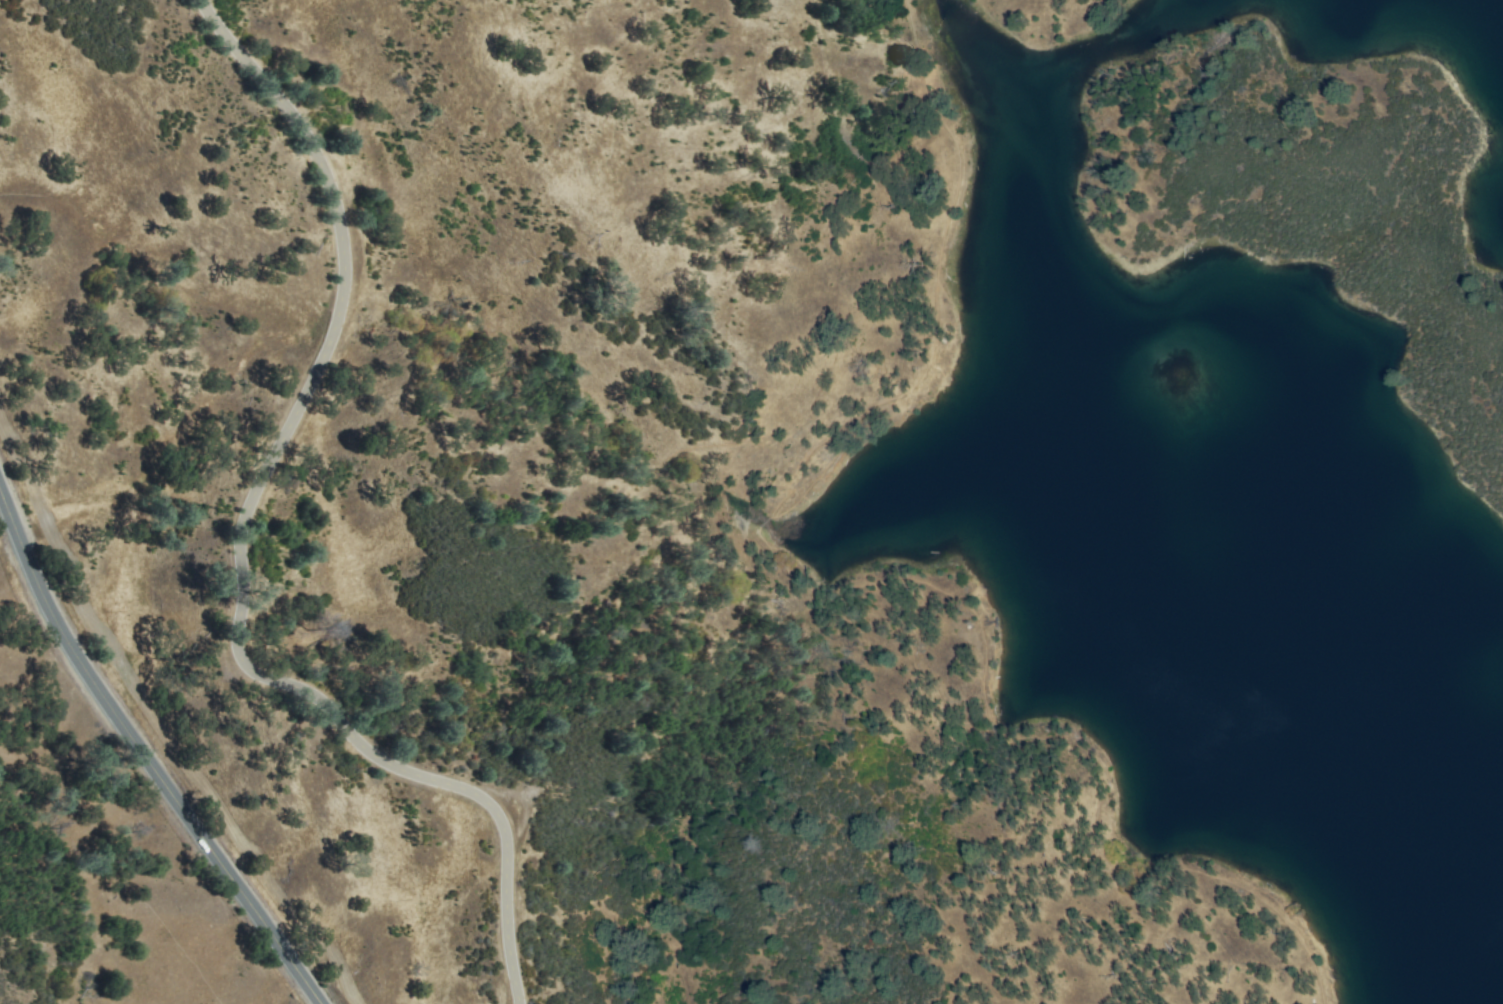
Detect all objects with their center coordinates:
road: (147, 754)

